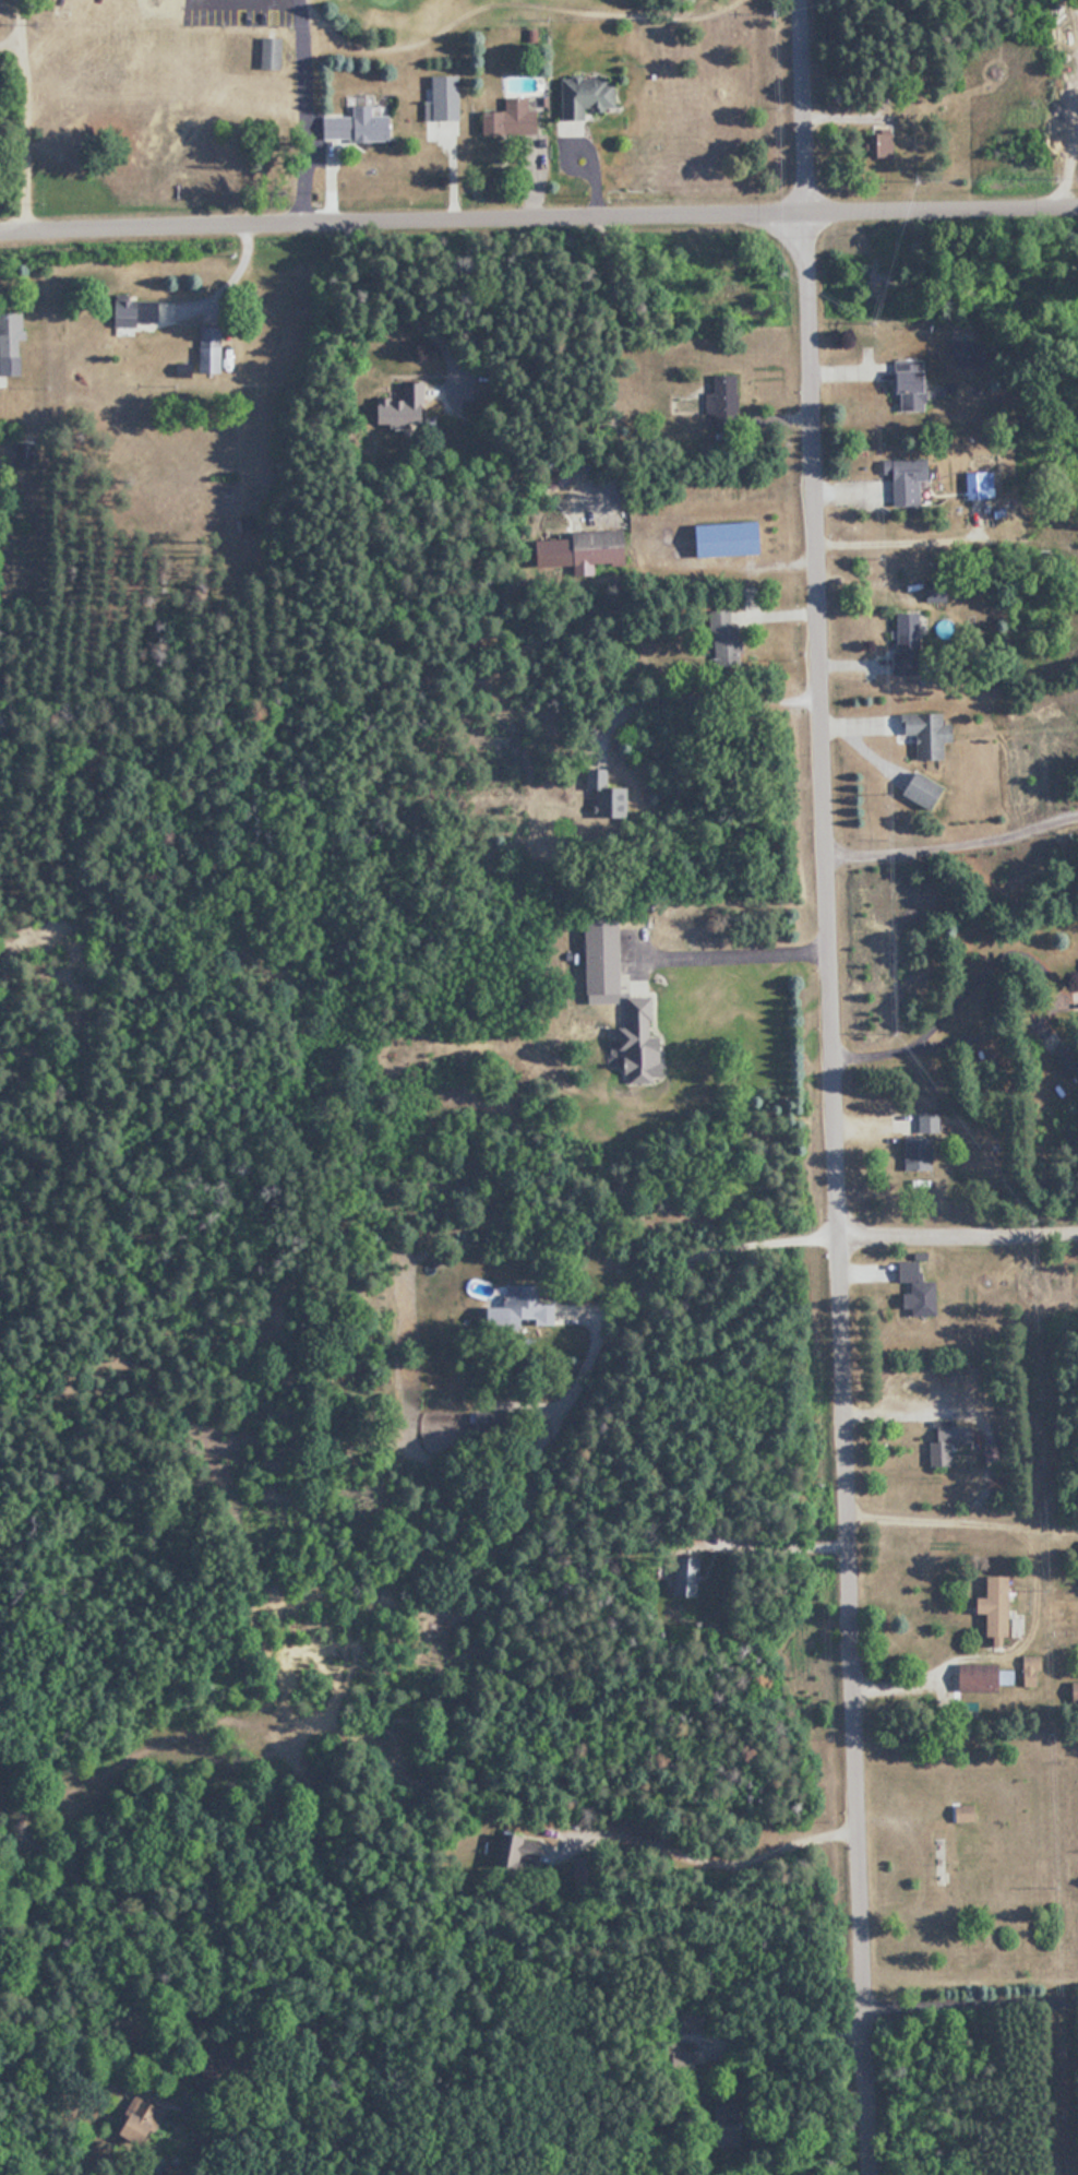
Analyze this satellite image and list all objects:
park: (434, 22)
road: (9, 44)
building: (273, 52)
building: (590, 94)
building: (446, 98)
road: (298, 112)
road: (20, 116)
building: (514, 118)
building: (360, 126)
road: (1066, 147)
road: (538, 218)
building: (136, 313)
building: (12, 342)
building: (212, 348)
building: (961, 354)
building: (902, 383)
building: (724, 401)
building: (406, 406)
building: (28, 453)
building: (899, 480)
building: (969, 487)
building: (731, 538)
building: (602, 545)
building: (899, 637)
building: (724, 638)
road: (699, 702)
road: (948, 704)
building: (931, 734)
building: (925, 788)
building: (606, 796)
road: (953, 842)
road: (732, 952)
building: (608, 954)
road: (1045, 1006)
building: (644, 1043)
building: (1067, 1059)
road: (829, 1087)
building: (930, 1121)
building: (920, 1152)
road: (957, 1248)
building: (908, 1271)
building: (528, 1306)
building: (950, 1440)
road: (961, 1519)
road: (771, 1542)
building: (1002, 1607)
building: (1033, 1671)
building: (981, 1678)
building: (967, 1814)
road: (703, 1852)
road: (969, 1999)
building: (142, 2121)

